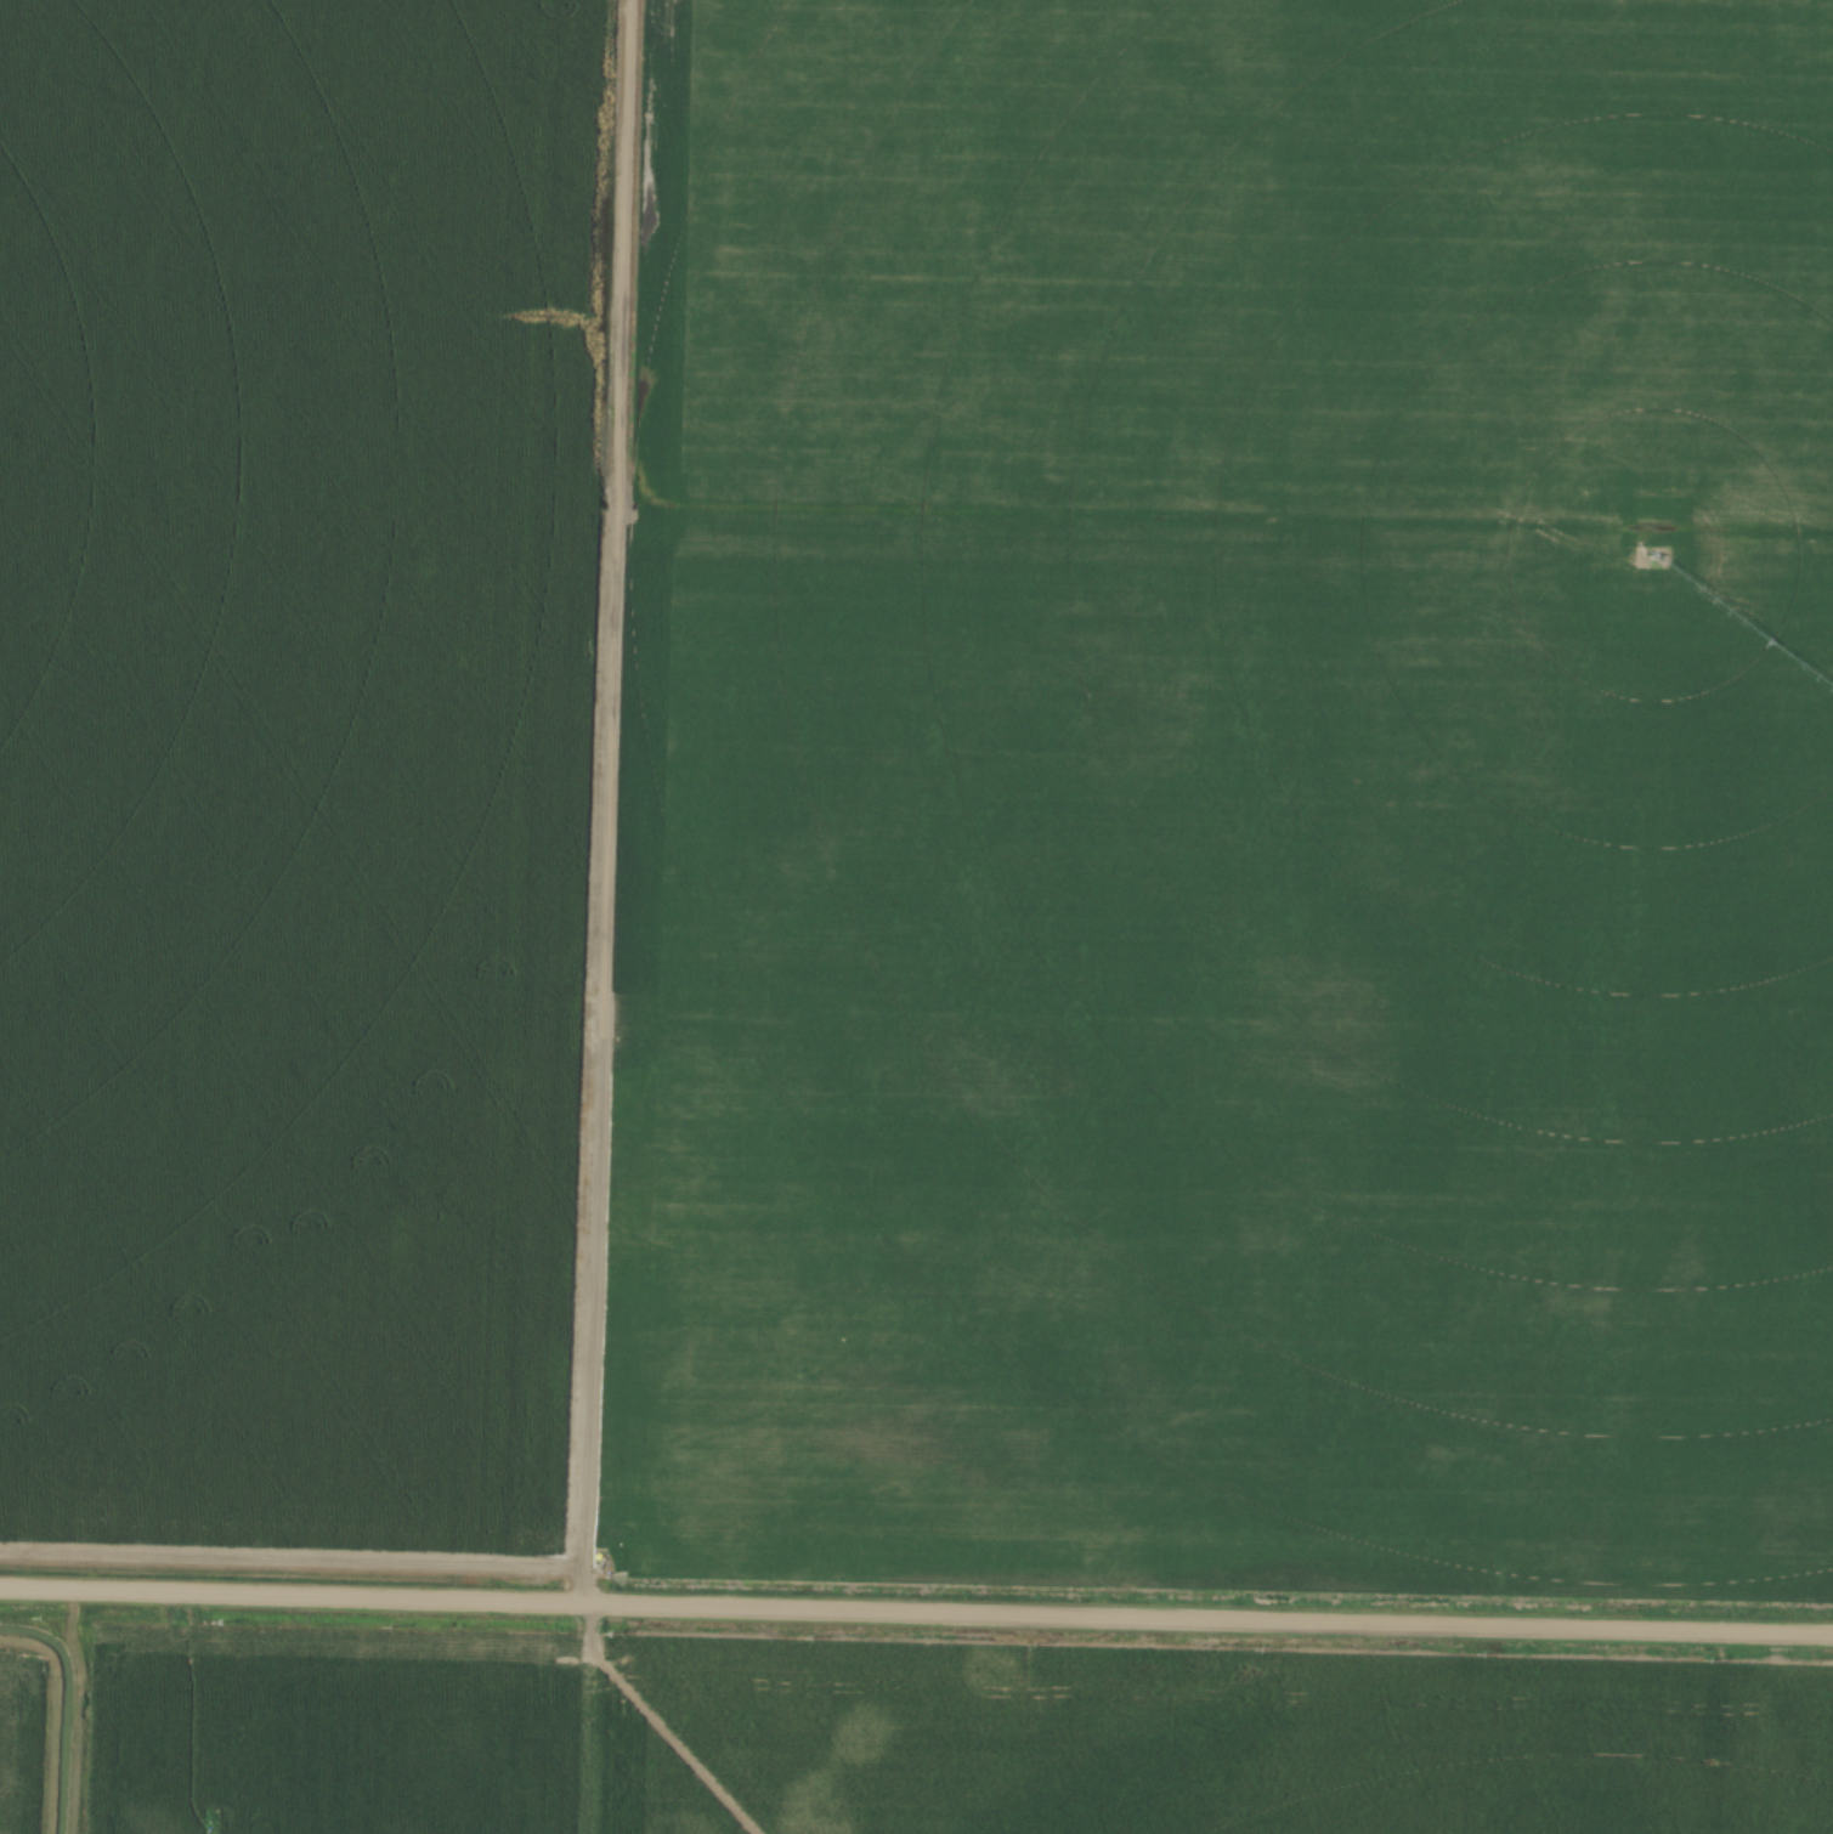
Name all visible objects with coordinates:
road: (920, 1615)

